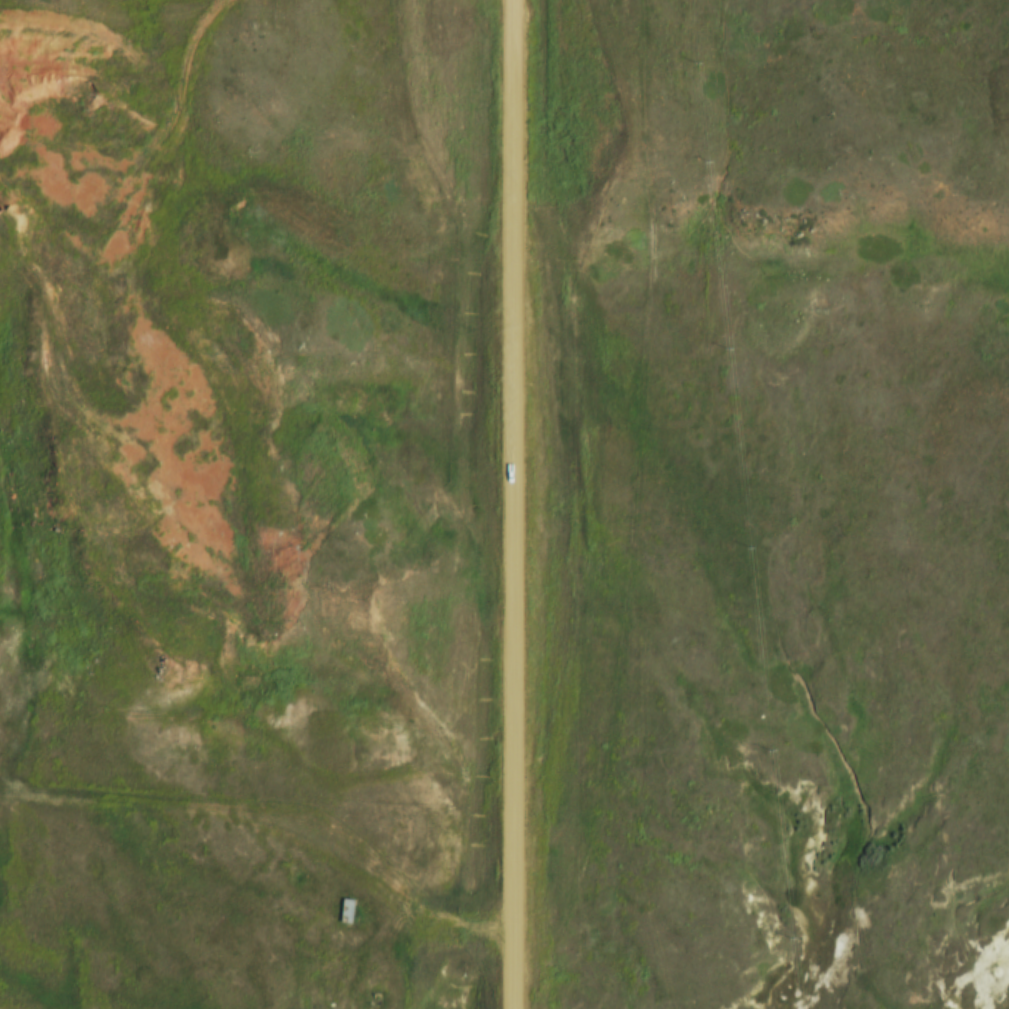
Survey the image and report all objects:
road: (116, 121)
quarry: (160, 389)
road: (559, 512)
road: (255, 811)
building: (346, 911)

